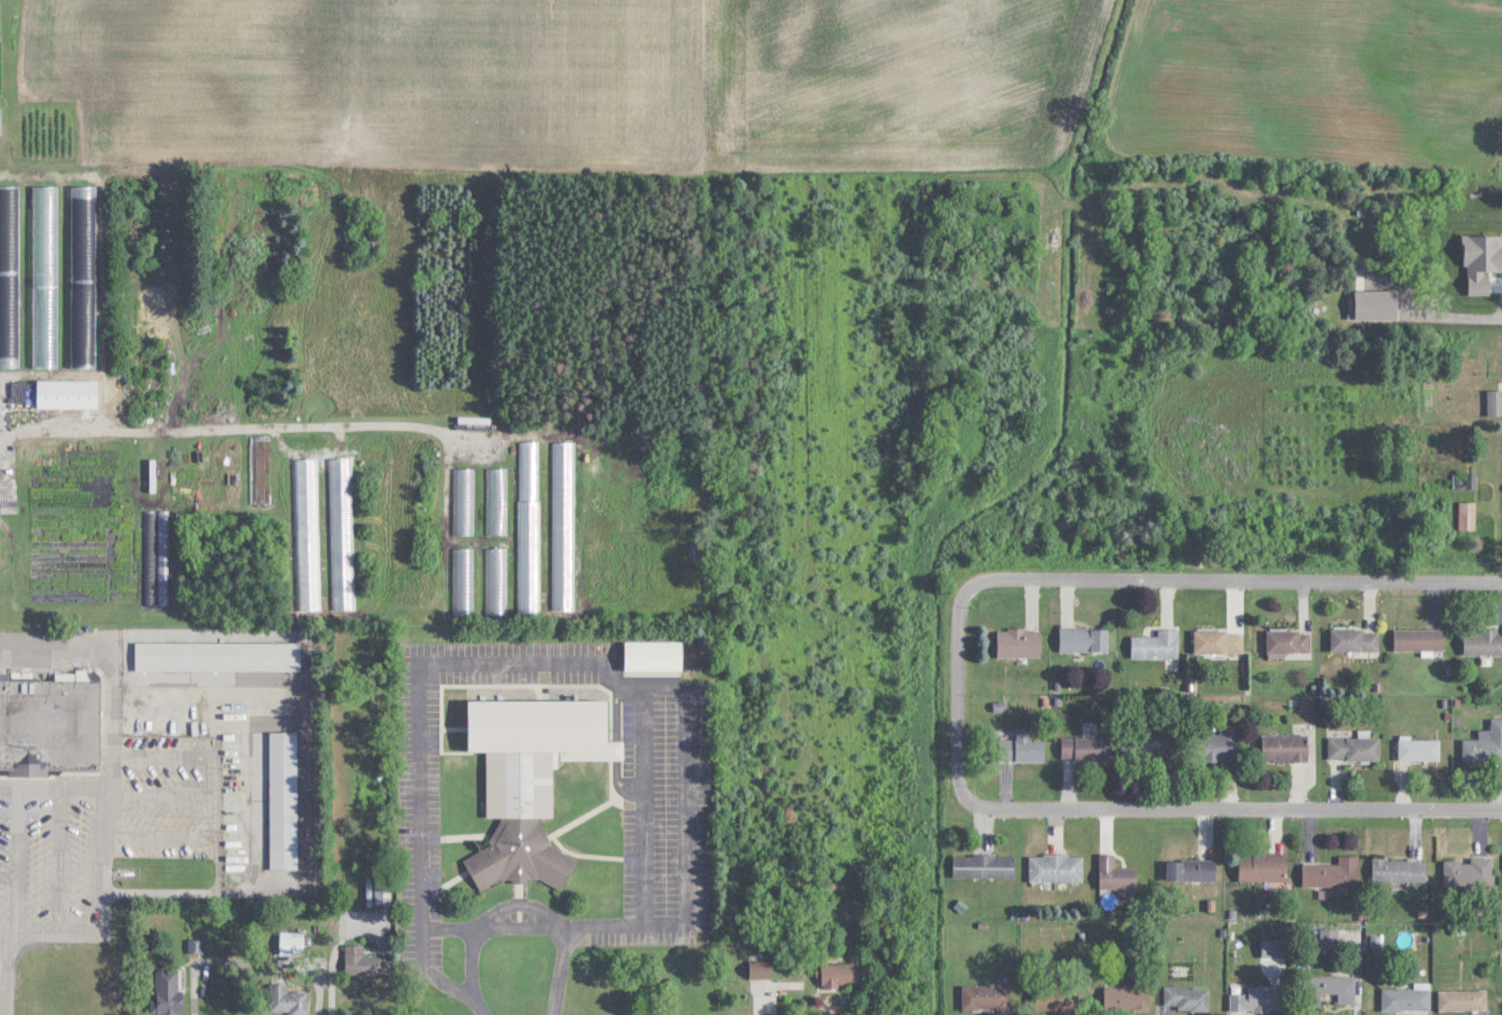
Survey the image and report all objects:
building: (0, 119)
building: (9, 275)
building: (44, 276)
building: (83, 276)
road: (1466, 310)
building: (67, 394)
building: (1495, 402)
building: (474, 419)
road: (237, 426)
building: (261, 469)
building: (463, 500)
building: (496, 500)
building: (1468, 515)
building: (529, 527)
building: (308, 542)
building: (342, 542)
road: (1183, 576)
building: (463, 580)
building: (496, 580)
building: (1084, 638)
building: (1419, 639)
building: (1356, 640)
building: (1219, 641)
building: (1289, 641)
building: (1483, 641)
building: (1019, 642)
building: (1157, 644)
building: (217, 655)
building: (653, 655)
road: (588, 662)
road: (112, 668)
building: (49, 725)
building: (1222, 744)
building: (1485, 745)
building: (1158, 746)
building: (1285, 747)
building: (1022, 748)
building: (1086, 748)
building: (1355, 748)
building: (1420, 749)
road: (181, 755)
building: (530, 779)
road: (162, 795)
building: (283, 800)
road: (1181, 803)
road: (161, 836)
road: (104, 856)
building: (984, 866)
building: (1263, 867)
building: (1056, 868)
building: (1192, 870)
building: (1399, 870)
building: (1468, 872)
building: (1333, 873)
building: (1116, 874)
road: (204, 891)
road: (499, 923)
building: (1328, 939)
building: (291, 943)
road: (331, 958)
building: (366, 963)
building: (760, 966)
building: (841, 974)
building: (168, 989)
road: (196, 990)
building: (1332, 990)
building: (986, 997)
building: (1127, 998)
building: (1187, 998)
building: (1257, 998)
building: (1407, 998)
building: (287, 1000)
building: (1463, 1000)

